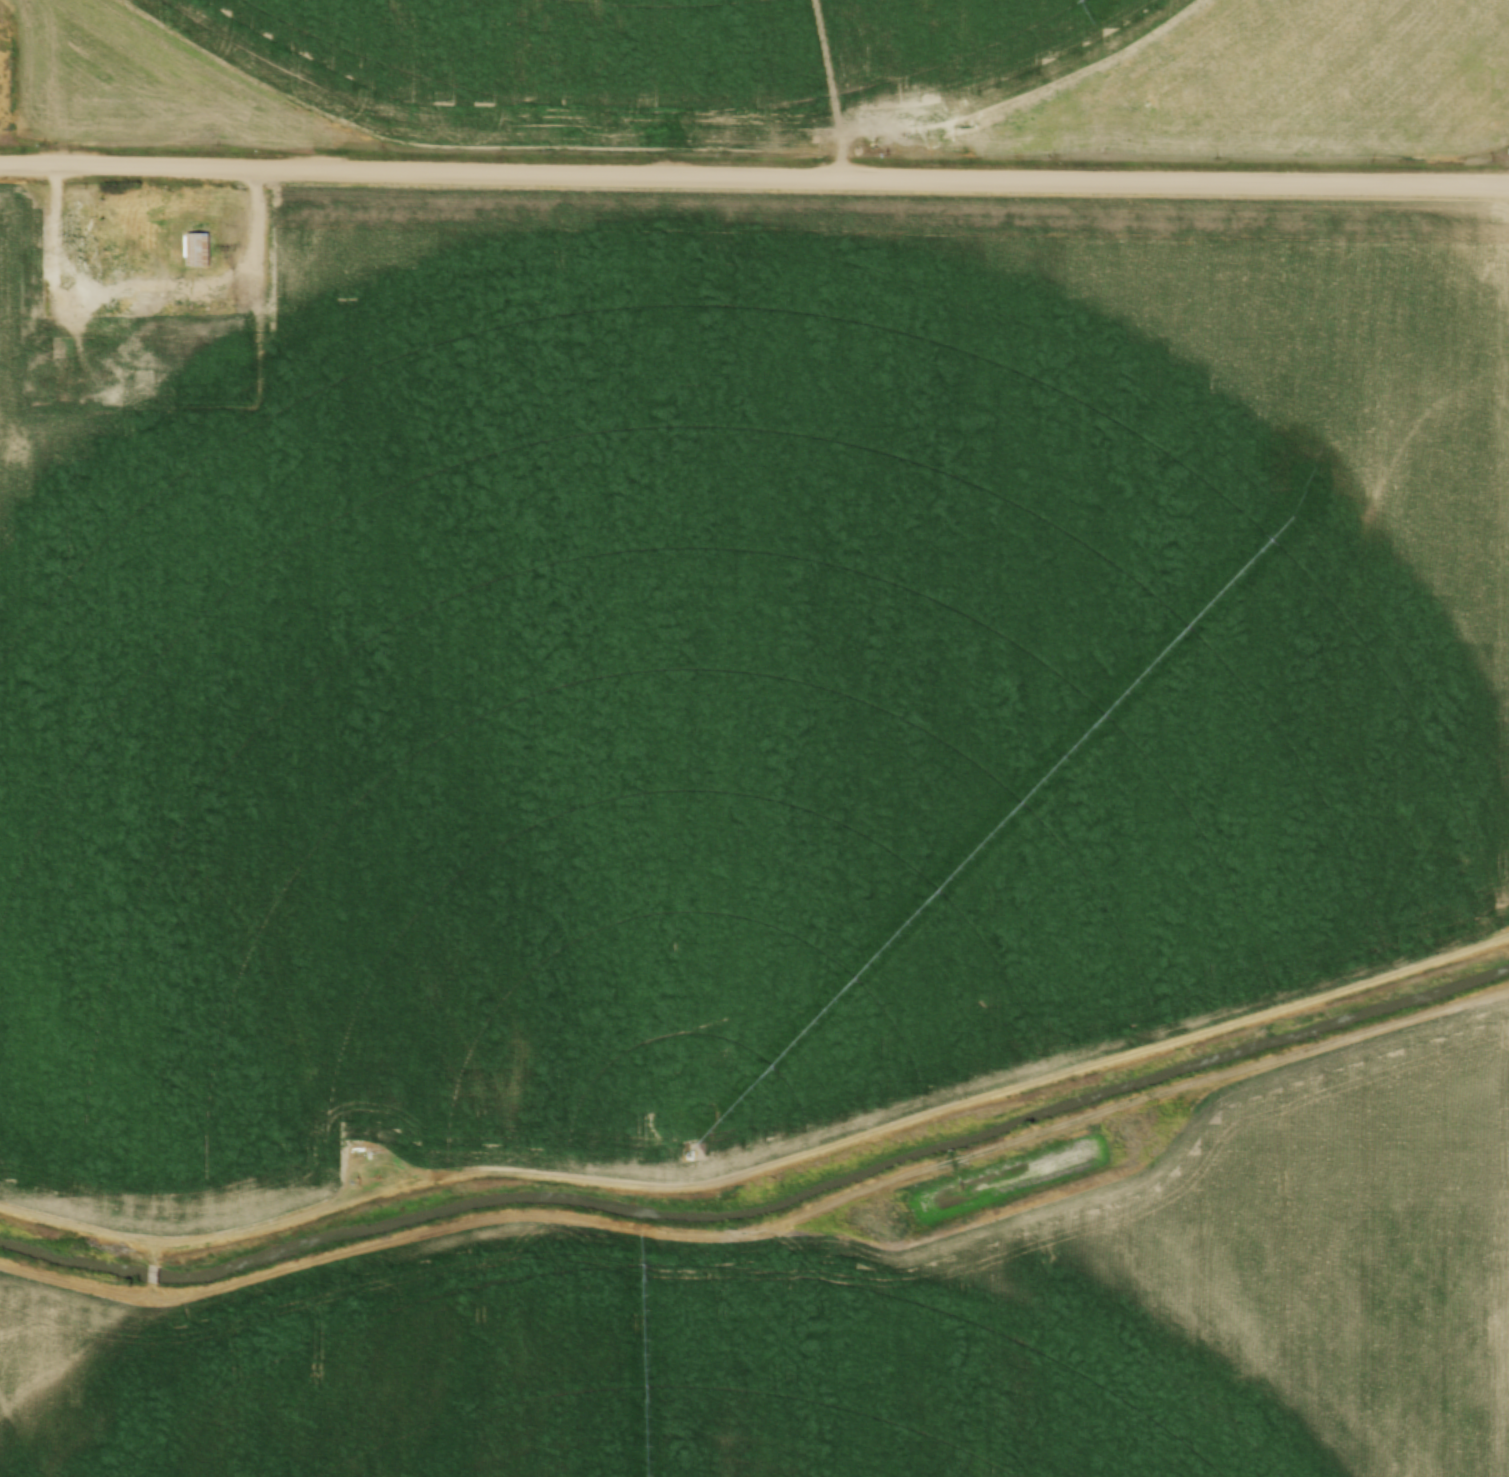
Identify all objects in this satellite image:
crop: (780, 74)
road: (754, 175)
building: (76, 244)
building: (197, 249)
building: (138, 267)
road: (142, 307)
building: (144, 386)
crop: (735, 676)
road: (762, 1163)
road: (834, 1198)
road: (152, 1254)
road: (152, 1273)
crop: (874, 1325)

